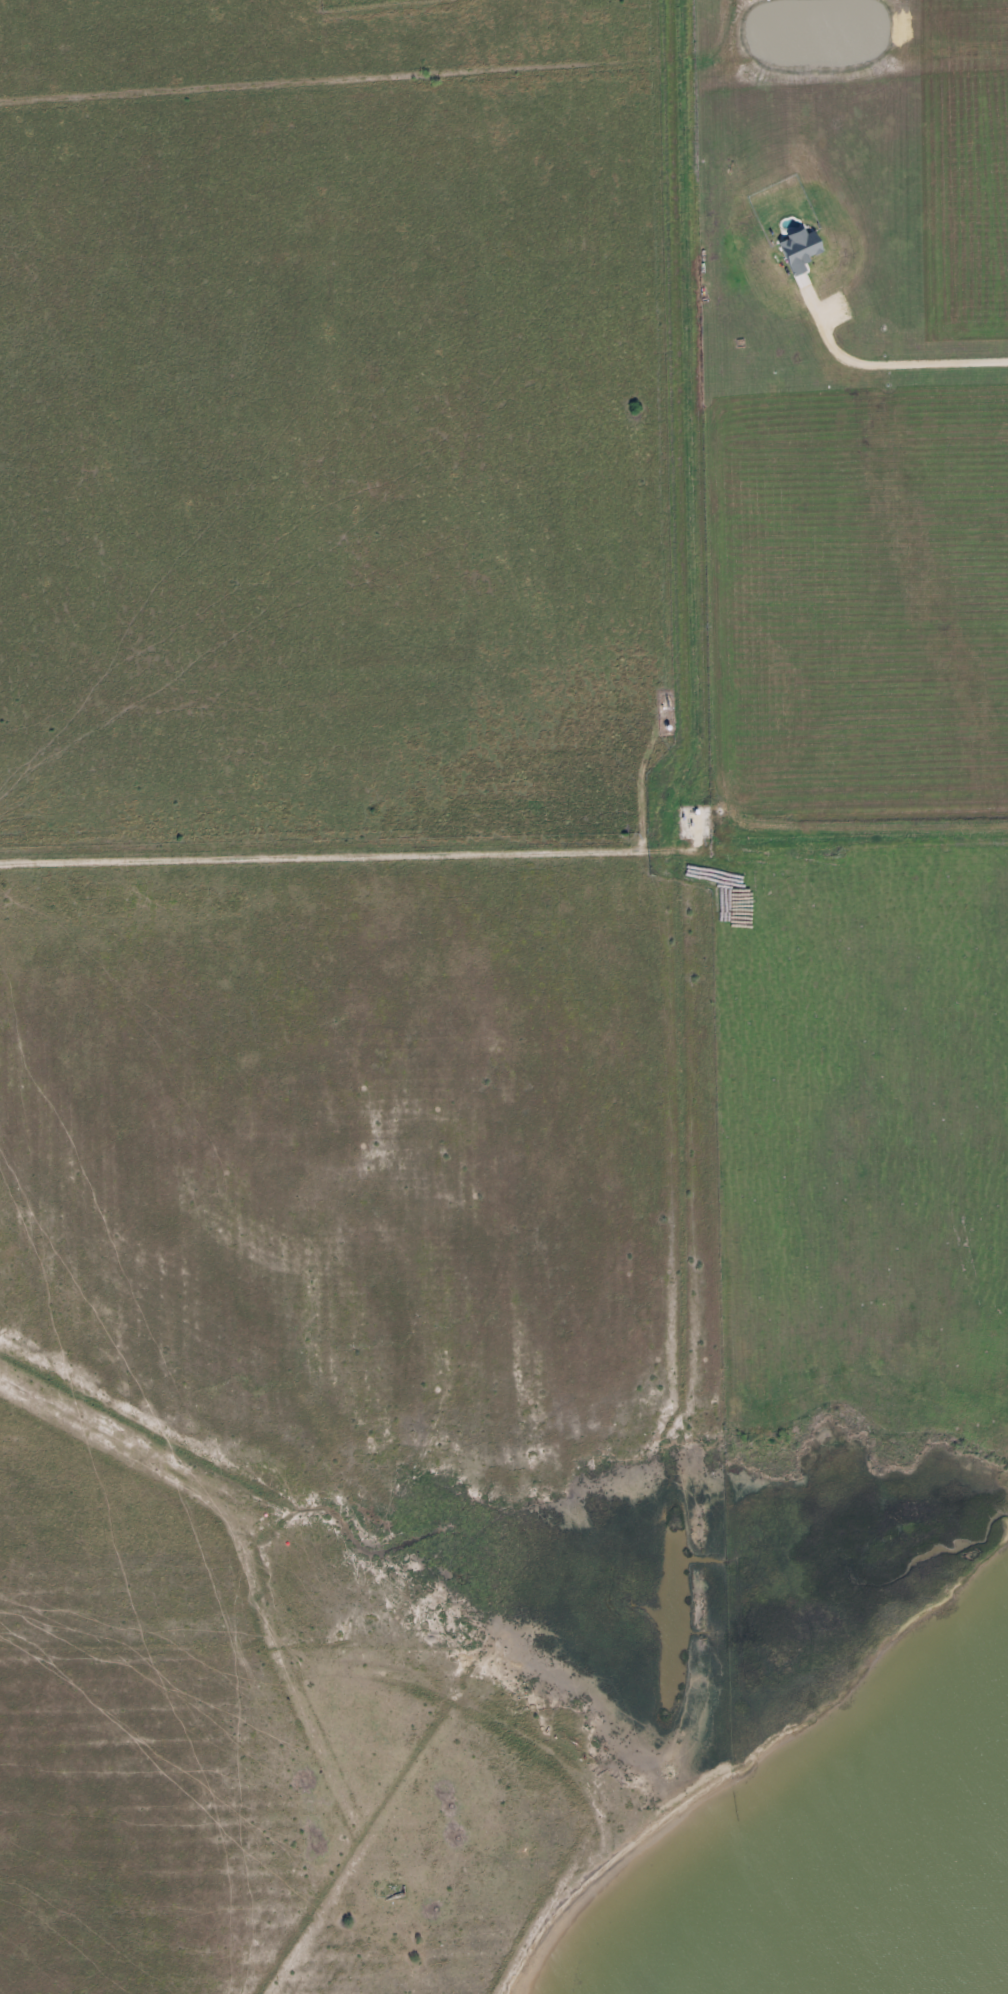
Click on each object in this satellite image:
road: (349, 863)

